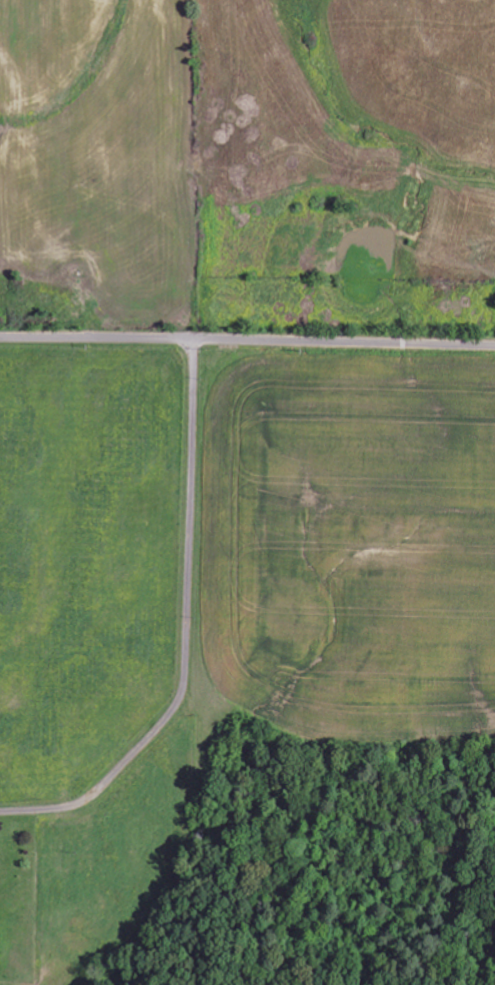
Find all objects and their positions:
road: (247, 340)

